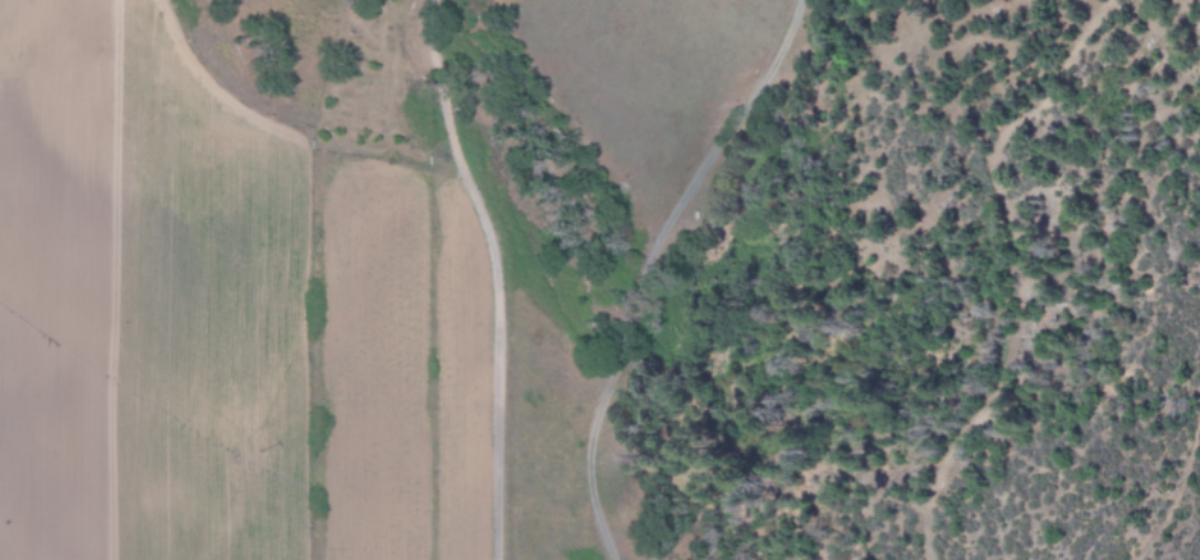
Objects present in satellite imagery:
road: (637, 266)
road: (491, 274)

